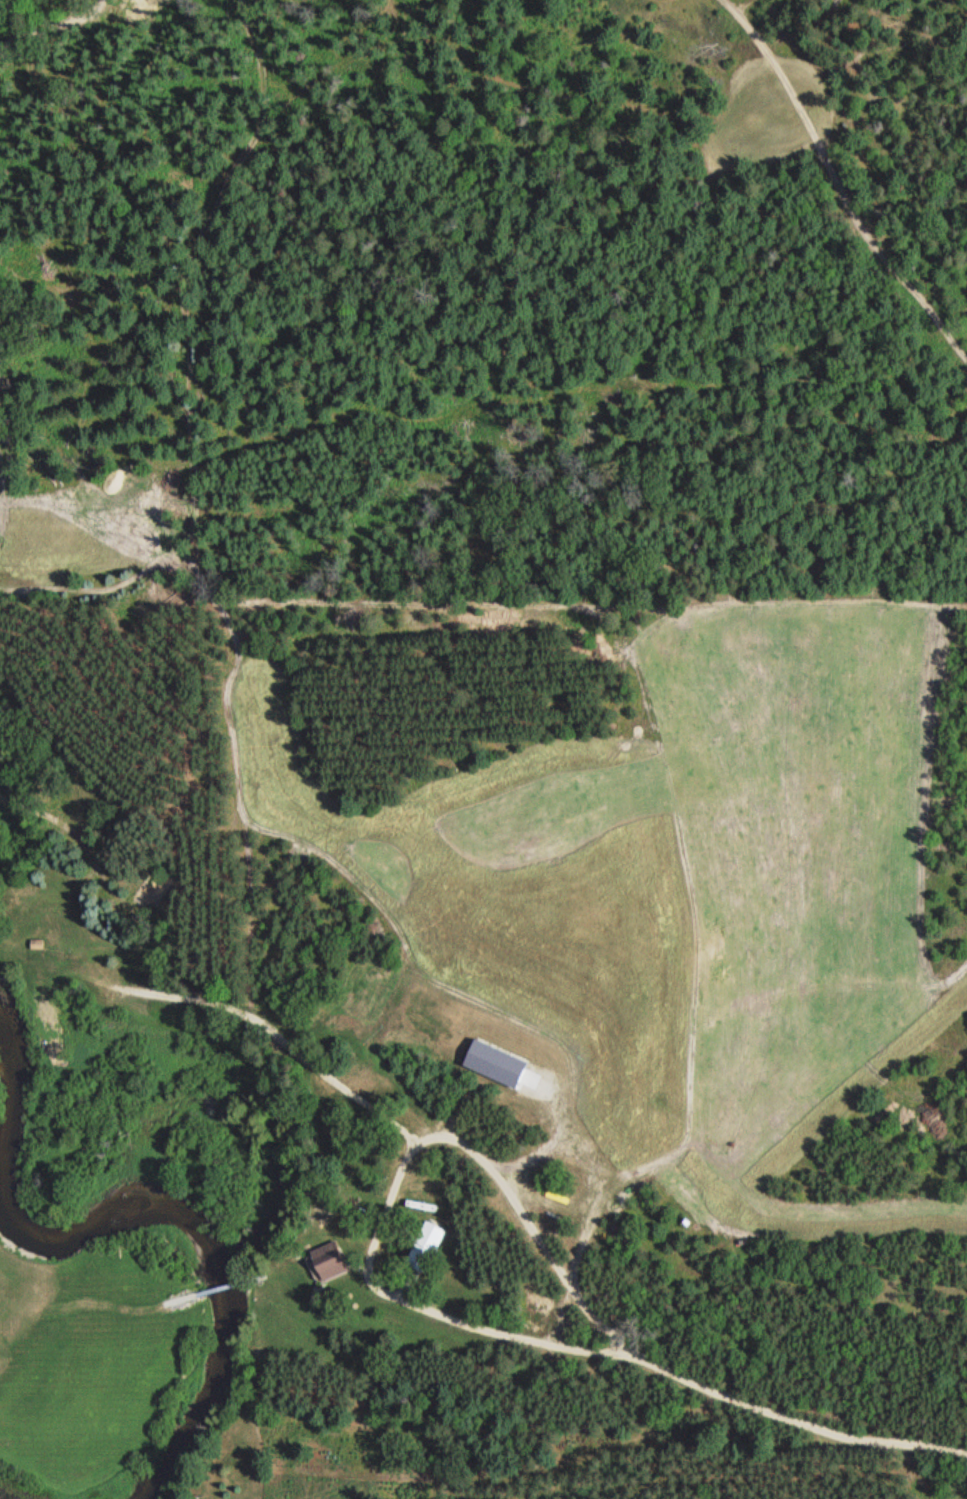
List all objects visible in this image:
road: (396, 1186)
river: (144, 1214)
building: (424, 1247)
building: (327, 1262)
road: (791, 1418)

